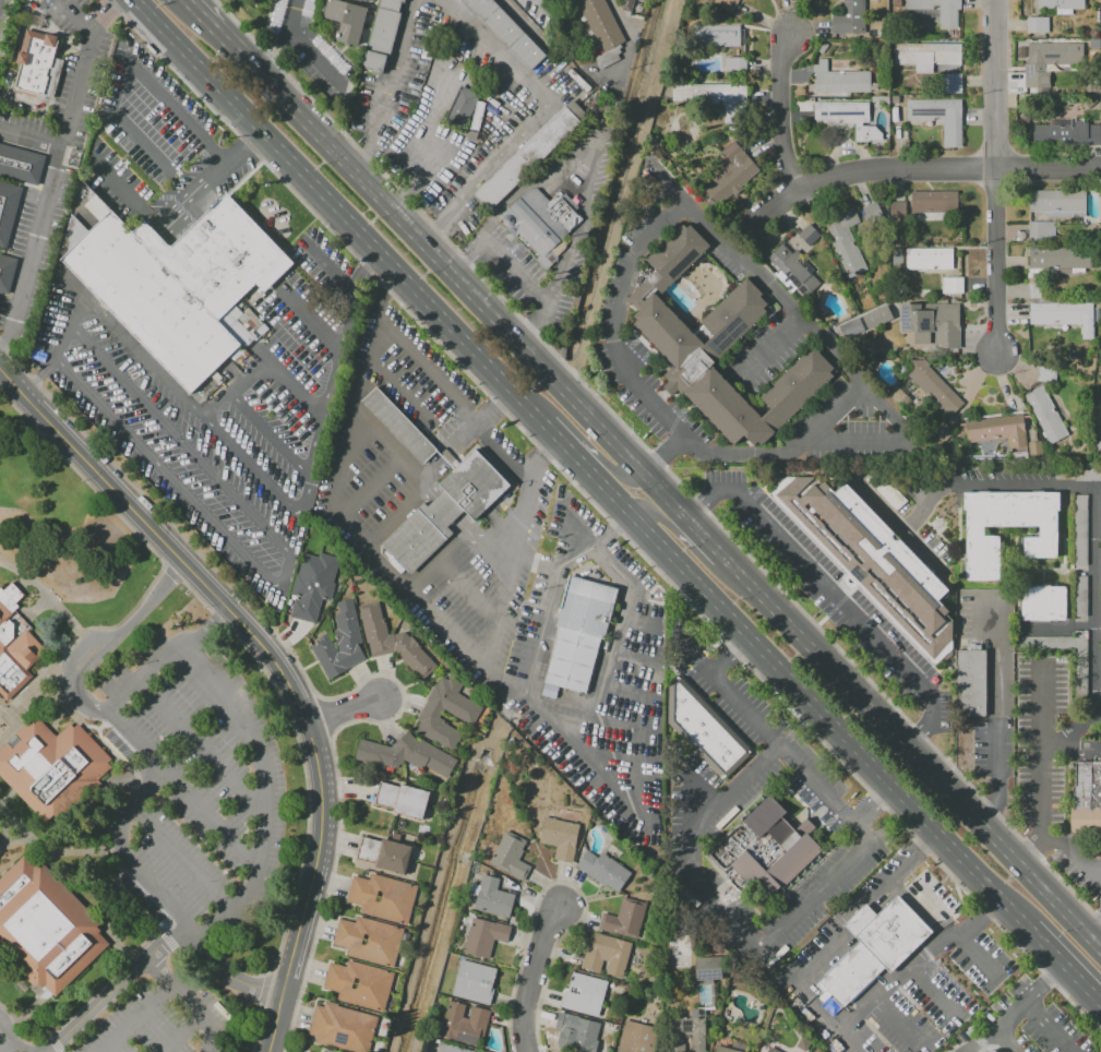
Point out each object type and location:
building: (364, 0)
building: (726, 4)
building: (626, 5)
building: (1061, 5)
building: (938, 10)
road: (107, 15)
building: (850, 17)
road: (210, 20)
building: (345, 20)
building: (1037, 24)
building: (601, 29)
building: (505, 32)
building: (382, 34)
building: (715, 35)
road: (284, 39)
road: (627, 47)
building: (1065, 52)
building: (926, 55)
building: (14, 58)
building: (33, 63)
building: (735, 64)
building: (50, 77)
building: (840, 79)
building: (950, 83)
road: (388, 86)
building: (714, 98)
road: (15, 100)
building: (467, 108)
road: (181, 113)
road: (781, 115)
building: (845, 115)
building: (938, 117)
road: (534, 119)
building: (1066, 133)
road: (31, 139)
road: (244, 145)
building: (529, 155)
road: (58, 163)
road: (410, 166)
road: (922, 168)
building: (732, 174)
road: (994, 176)
road: (668, 183)
building: (1100, 191)
road: (623, 196)
building: (933, 201)
building: (13, 202)
building: (1057, 203)
road: (342, 212)
building: (896, 212)
road: (158, 220)
building: (540, 223)
road: (583, 224)
building: (1041, 229)
building: (809, 235)
building: (850, 237)
building: (929, 256)
building: (1060, 258)
road: (742, 260)
road: (363, 266)
road: (335, 268)
building: (793, 268)
road: (518, 271)
road: (455, 278)
building: (177, 283)
building: (952, 285)
road: (707, 301)
road: (675, 308)
road: (306, 316)
building: (1063, 316)
road: (693, 321)
road: (686, 322)
building: (932, 323)
road: (70, 332)
building: (716, 347)
road: (769, 347)
road: (7, 348)
building: (1045, 373)
building: (933, 386)
road: (291, 392)
building: (897, 394)
road: (661, 397)
road: (189, 403)
road: (213, 413)
building: (1100, 413)
building: (1045, 415)
building: (402, 426)
flagpole: (632, 426)
road: (271, 428)
flagpole: (635, 428)
road: (671, 430)
building: (997, 430)
road: (179, 432)
road: (893, 439)
road: (388, 446)
road: (566, 447)
building: (1036, 450)
building: (1100, 453)
road: (539, 454)
road: (666, 456)
road: (431, 468)
road: (614, 474)
flagpole: (519, 480)
road: (996, 485)
road: (371, 489)
road: (447, 509)
building: (448, 510)
building: (1080, 529)
road: (617, 530)
park: (63, 534)
building: (982, 536)
road: (703, 537)
road: (456, 542)
road: (692, 549)
building: (874, 557)
road: (272, 578)
building: (312, 584)
parking lot: (830, 589)
road: (44, 590)
road: (467, 591)
road: (629, 593)
road: (837, 595)
building: (1080, 598)
road: (1098, 599)
building: (1043, 602)
road: (36, 607)
road: (84, 630)
road: (208, 634)
building: (582, 636)
road: (110, 642)
road: (254, 642)
building: (394, 642)
building: (340, 643)
building: (15, 644)
road: (81, 650)
road: (728, 656)
road: (483, 668)
building: (1081, 673)
building: (970, 682)
road: (723, 690)
road: (997, 690)
road: (809, 701)
road: (1042, 706)
building: (464, 714)
road: (347, 716)
road: (1077, 730)
building: (706, 731)
road: (203, 745)
building: (405, 755)
road: (911, 755)
building: (56, 769)
parking lot: (1049, 772)
road: (158, 779)
road: (1040, 779)
parking lot: (193, 789)
road: (619, 790)
road: (264, 794)
road: (685, 797)
building: (403, 799)
building: (1086, 799)
road: (872, 804)
road: (998, 812)
road: (211, 820)
road: (4, 823)
building: (560, 837)
road: (14, 839)
road: (51, 845)
road: (922, 846)
building: (770, 849)
road: (1089, 850)
building: (385, 854)
building: (511, 854)
road: (1072, 854)
road: (183, 858)
road: (687, 860)
building: (603, 870)
road: (1099, 874)
building: (382, 897)
building: (493, 897)
building: (625, 918)
road: (980, 918)
building: (43, 927)
road: (1093, 931)
building: (484, 937)
road: (1060, 939)
building: (369, 940)
building: (874, 945)
road: (158, 947)
road: (823, 952)
building: (607, 954)
road: (982, 958)
road: (1065, 967)
building: (706, 968)
road: (532, 978)
road: (898, 978)
building: (474, 982)
building: (359, 984)
building: (585, 995)
road: (190, 1001)
road: (1017, 1008)
parking lot: (161, 1016)
road: (137, 1019)
building: (465, 1023)
road: (898, 1023)
road: (274, 1024)
parking lot: (1029, 1024)
building: (343, 1027)
building: (577, 1027)
road: (1046, 1027)
building: (687, 1030)
parking lot: (5, 1032)
road: (183, 1033)
building: (635, 1038)
road: (11, 1041)
road: (1000, 1042)
road: (4, 1043)
building: (450, 1049)
building: (726, 1050)
building: (771, 1050)
building: (304, 1051)
building: (326, 1051)
building: (989, 1051)

